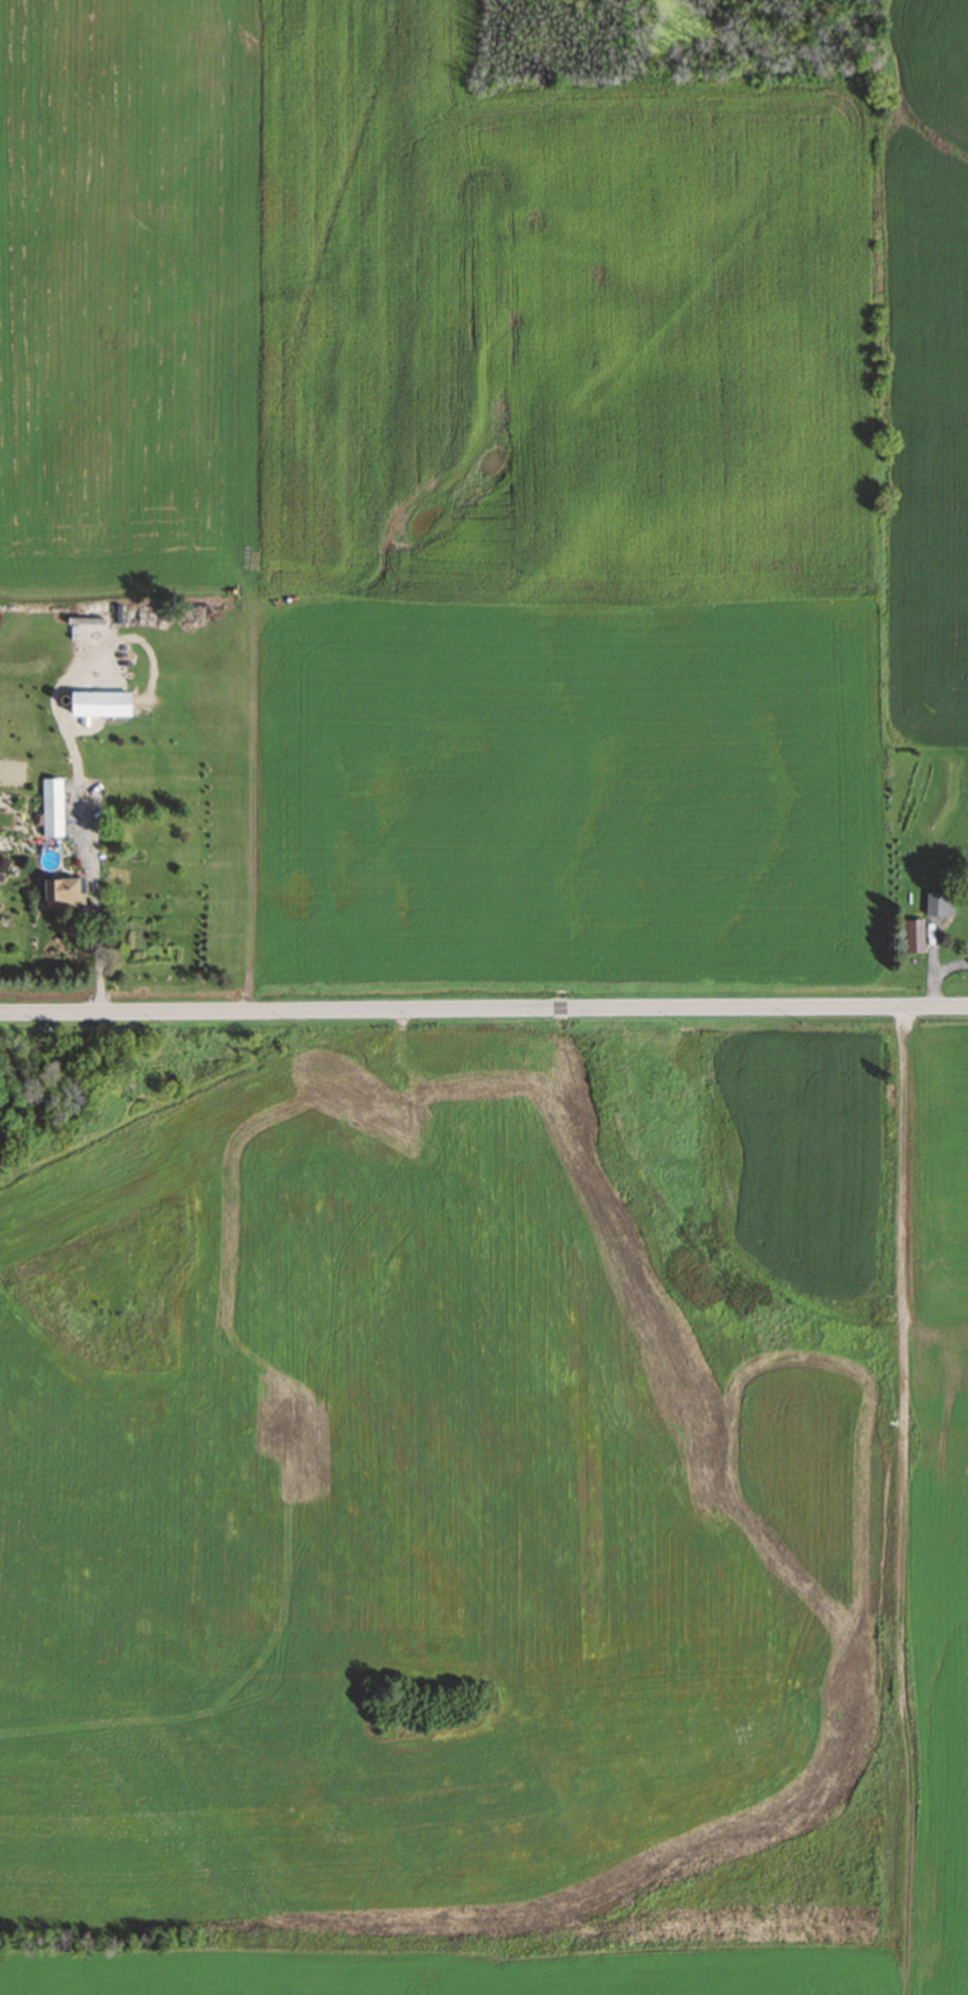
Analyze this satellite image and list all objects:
building: (97, 703)
building: (51, 807)
road: (79, 824)
building: (58, 889)
building: (940, 904)
road: (484, 1016)

